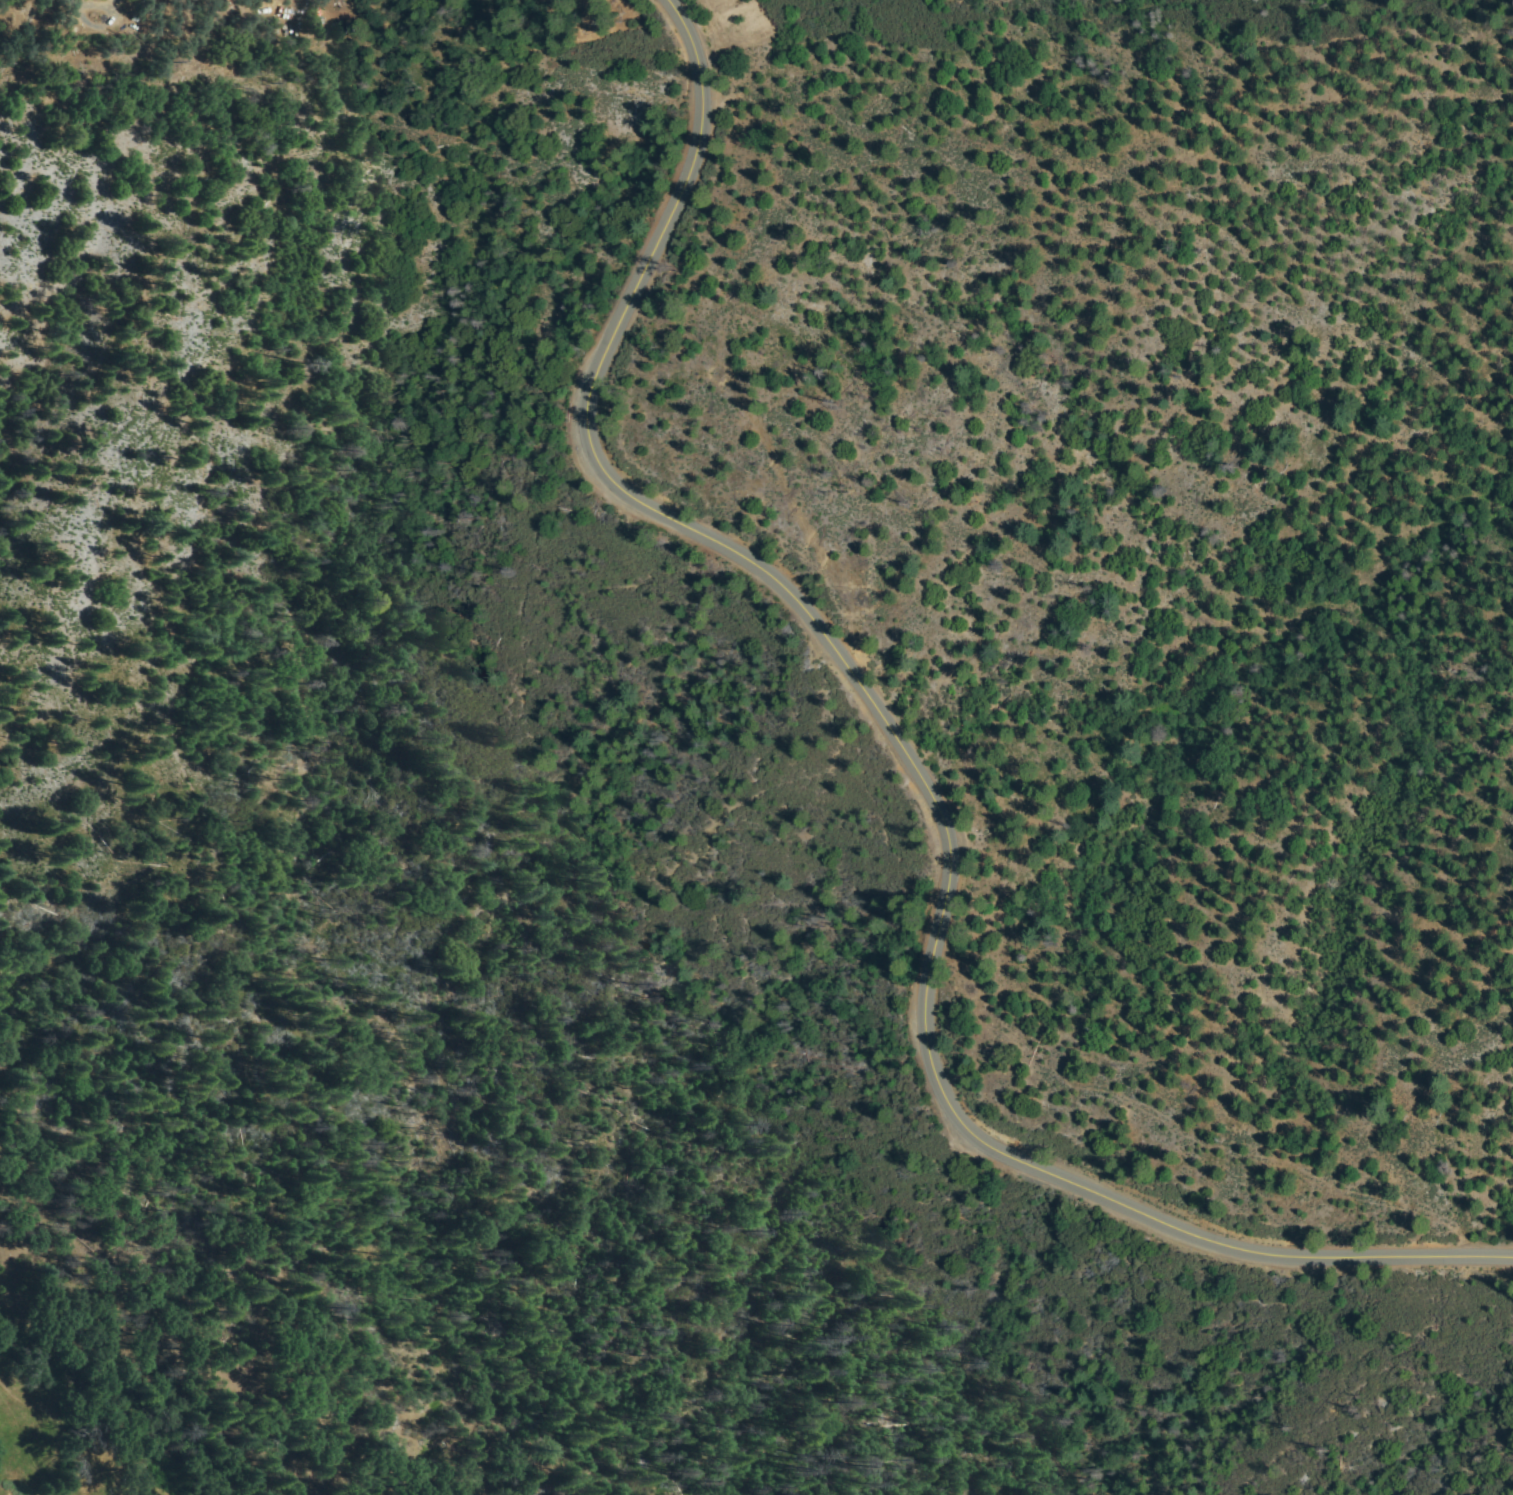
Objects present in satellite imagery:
road: (906, 774)

